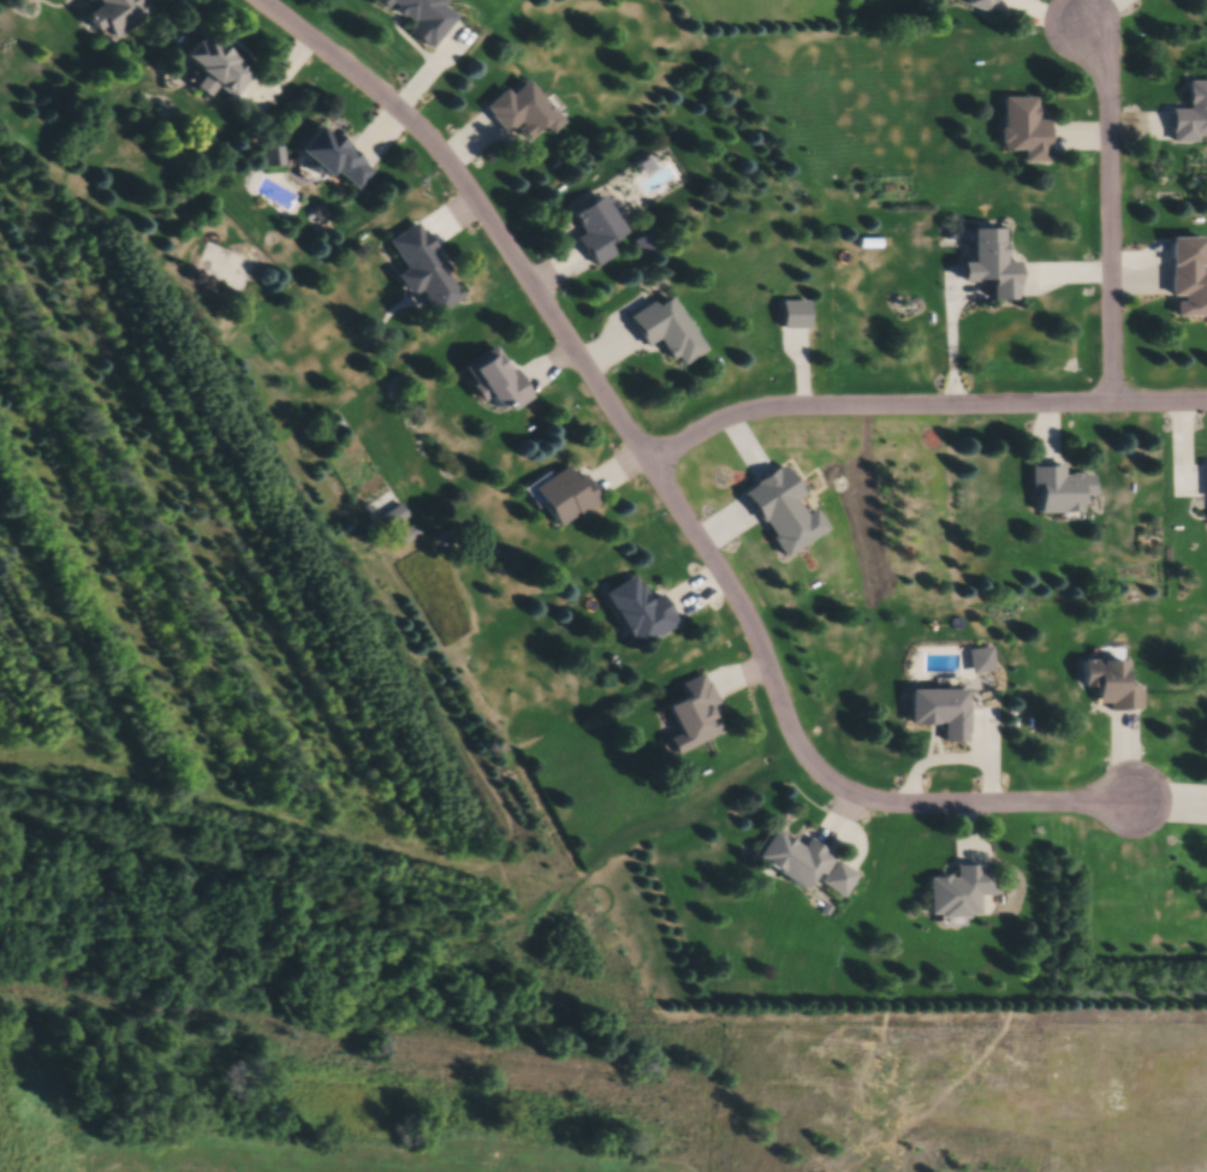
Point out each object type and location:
building: (975, 2)
building: (123, 13)
building: (423, 17)
building: (222, 65)
building: (527, 112)
building: (1189, 114)
building: (1019, 130)
building: (338, 159)
road: (1110, 210)
building: (601, 231)
building: (986, 264)
building: (225, 268)
building: (429, 269)
building: (1184, 278)
building: (798, 315)
building: (672, 329)
building: (504, 380)
road: (922, 407)
building: (1203, 482)
road: (668, 492)
building: (1051, 492)
building: (571, 495)
building: (790, 511)
building: (398, 517)
building: (409, 534)
building: (643, 612)
building: (979, 661)
building: (1106, 686)
building: (935, 713)
building: (697, 716)
building: (809, 865)
building: (953, 892)

